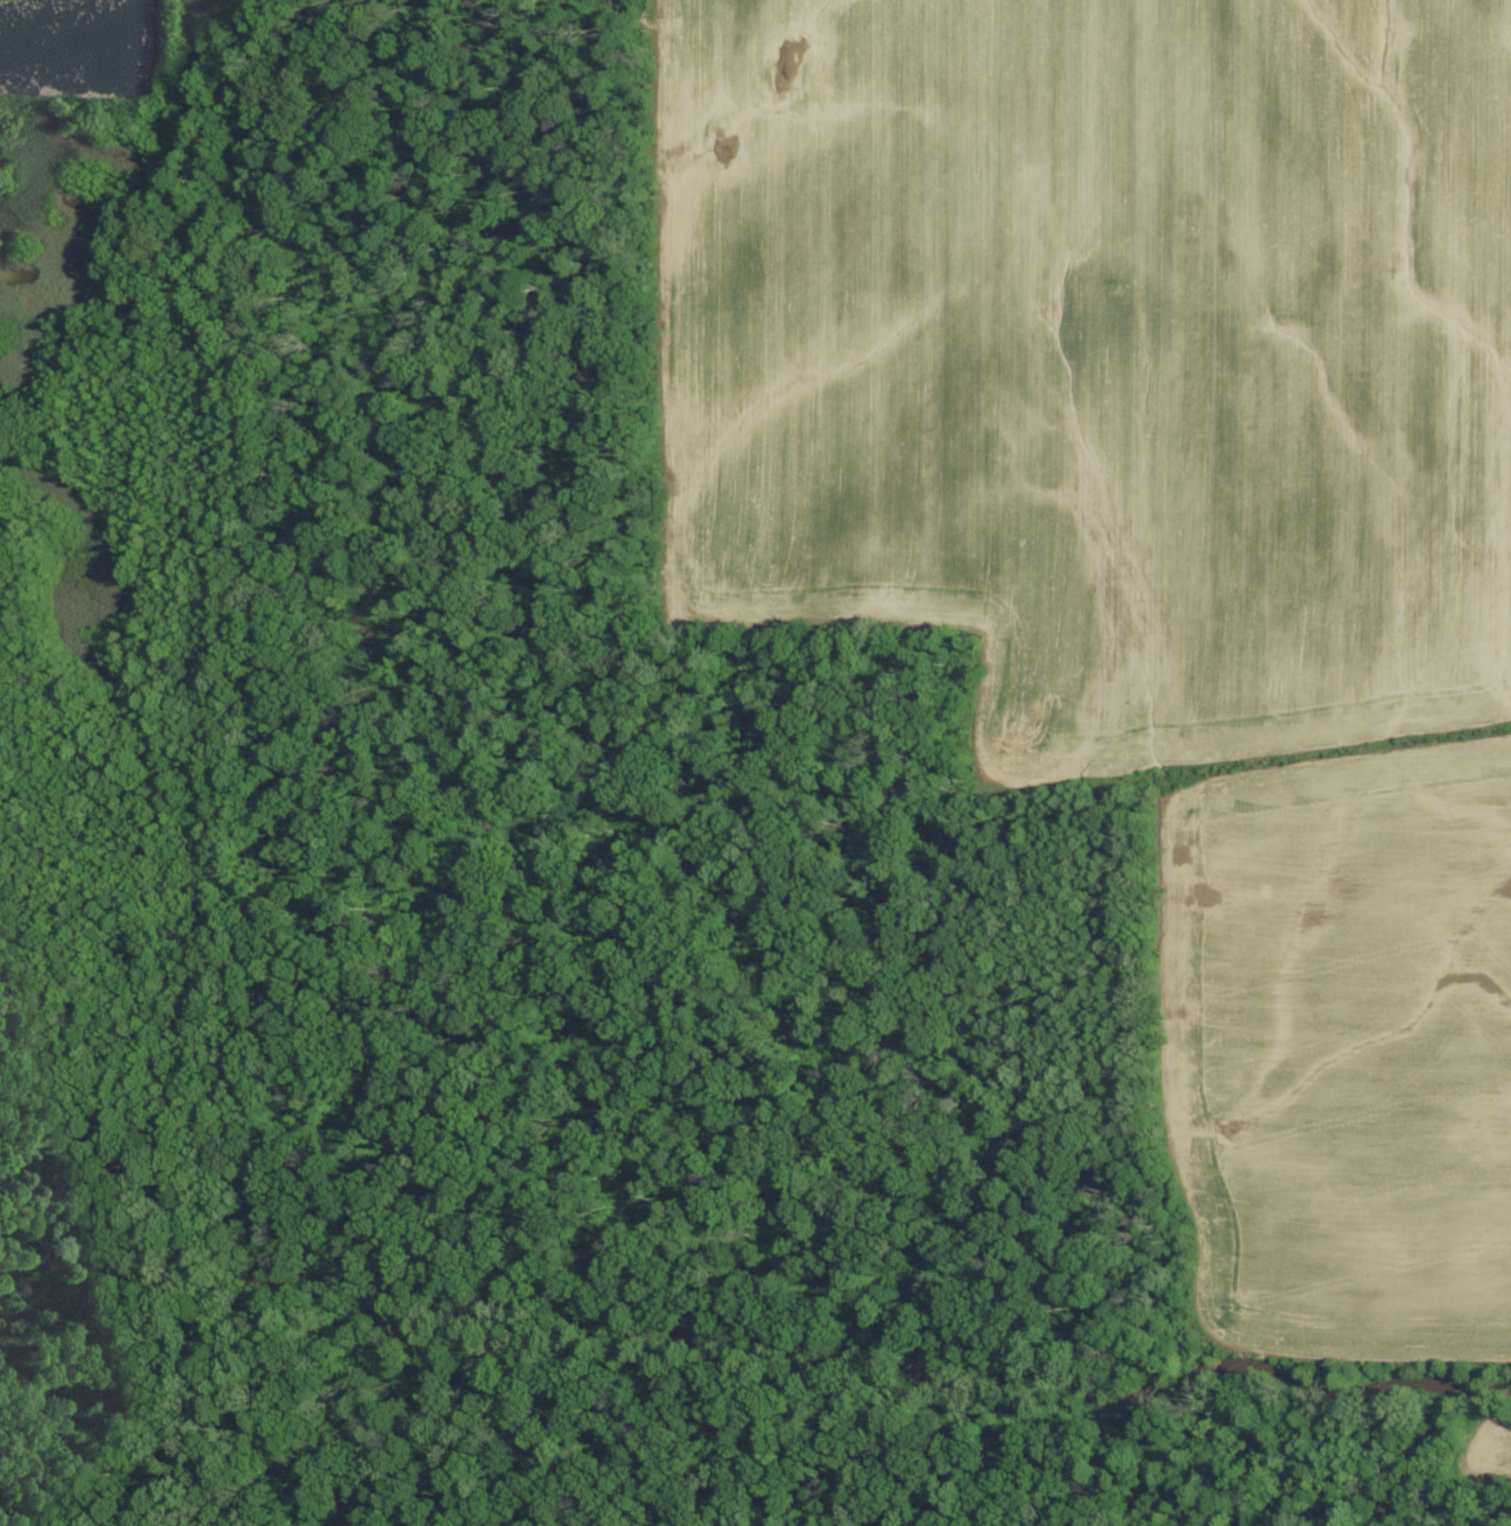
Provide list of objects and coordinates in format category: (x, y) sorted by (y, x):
road: (1092, 149)

